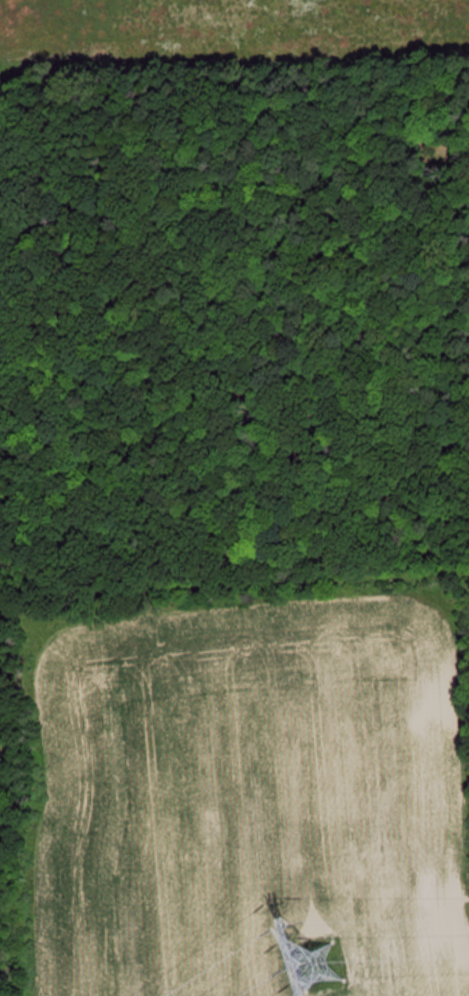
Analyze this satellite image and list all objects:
power tower: (316, 967)

